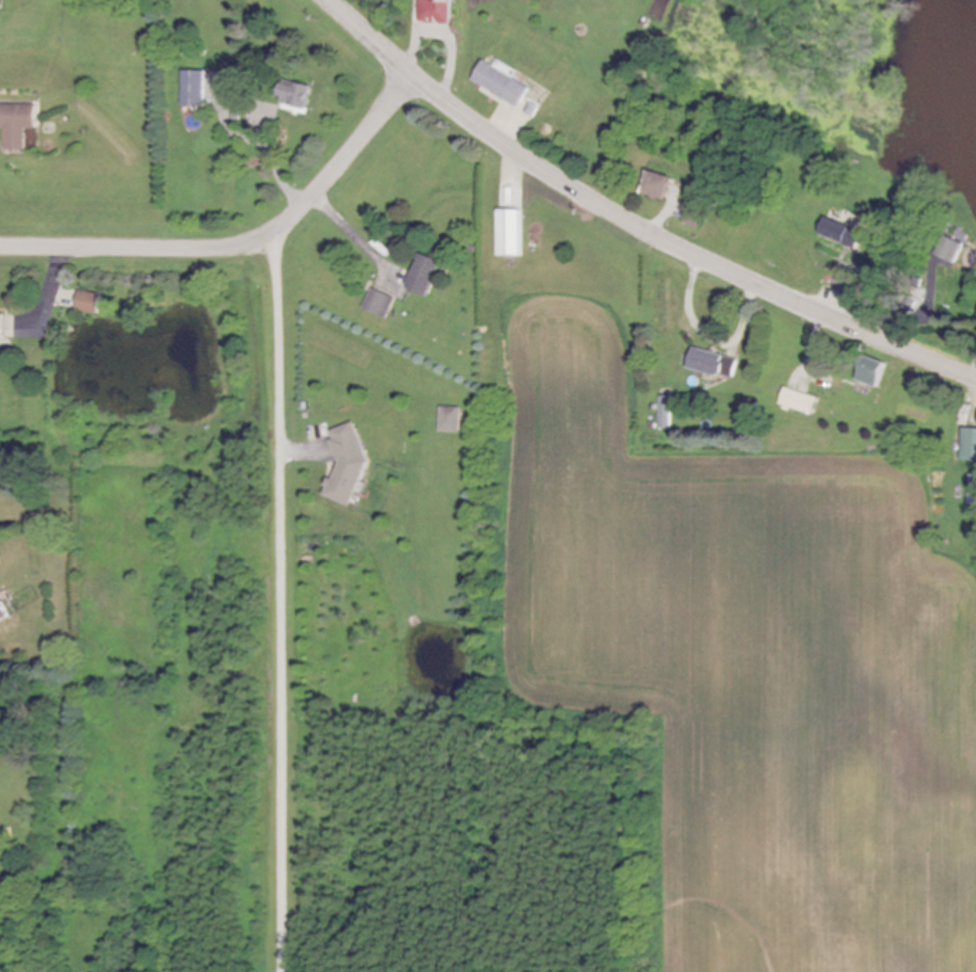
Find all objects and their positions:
building: (437, 12)
road: (447, 34)
building: (503, 85)
building: (195, 90)
building: (299, 95)
road: (257, 106)
building: (20, 124)
road: (505, 127)
road: (516, 170)
building: (659, 186)
road: (661, 218)
building: (696, 218)
road: (633, 221)
road: (354, 232)
building: (513, 234)
building: (841, 234)
road: (243, 244)
building: (428, 276)
road: (53, 283)
building: (852, 283)
road: (692, 298)
building: (91, 303)
building: (380, 304)
building: (2, 327)
road: (816, 339)
building: (715, 364)
building: (876, 372)
building: (802, 402)
building: (666, 413)
building: (451, 420)
building: (969, 446)
road: (303, 451)
building: (350, 465)
building: (973, 491)
road: (281, 603)
building: (3, 613)

